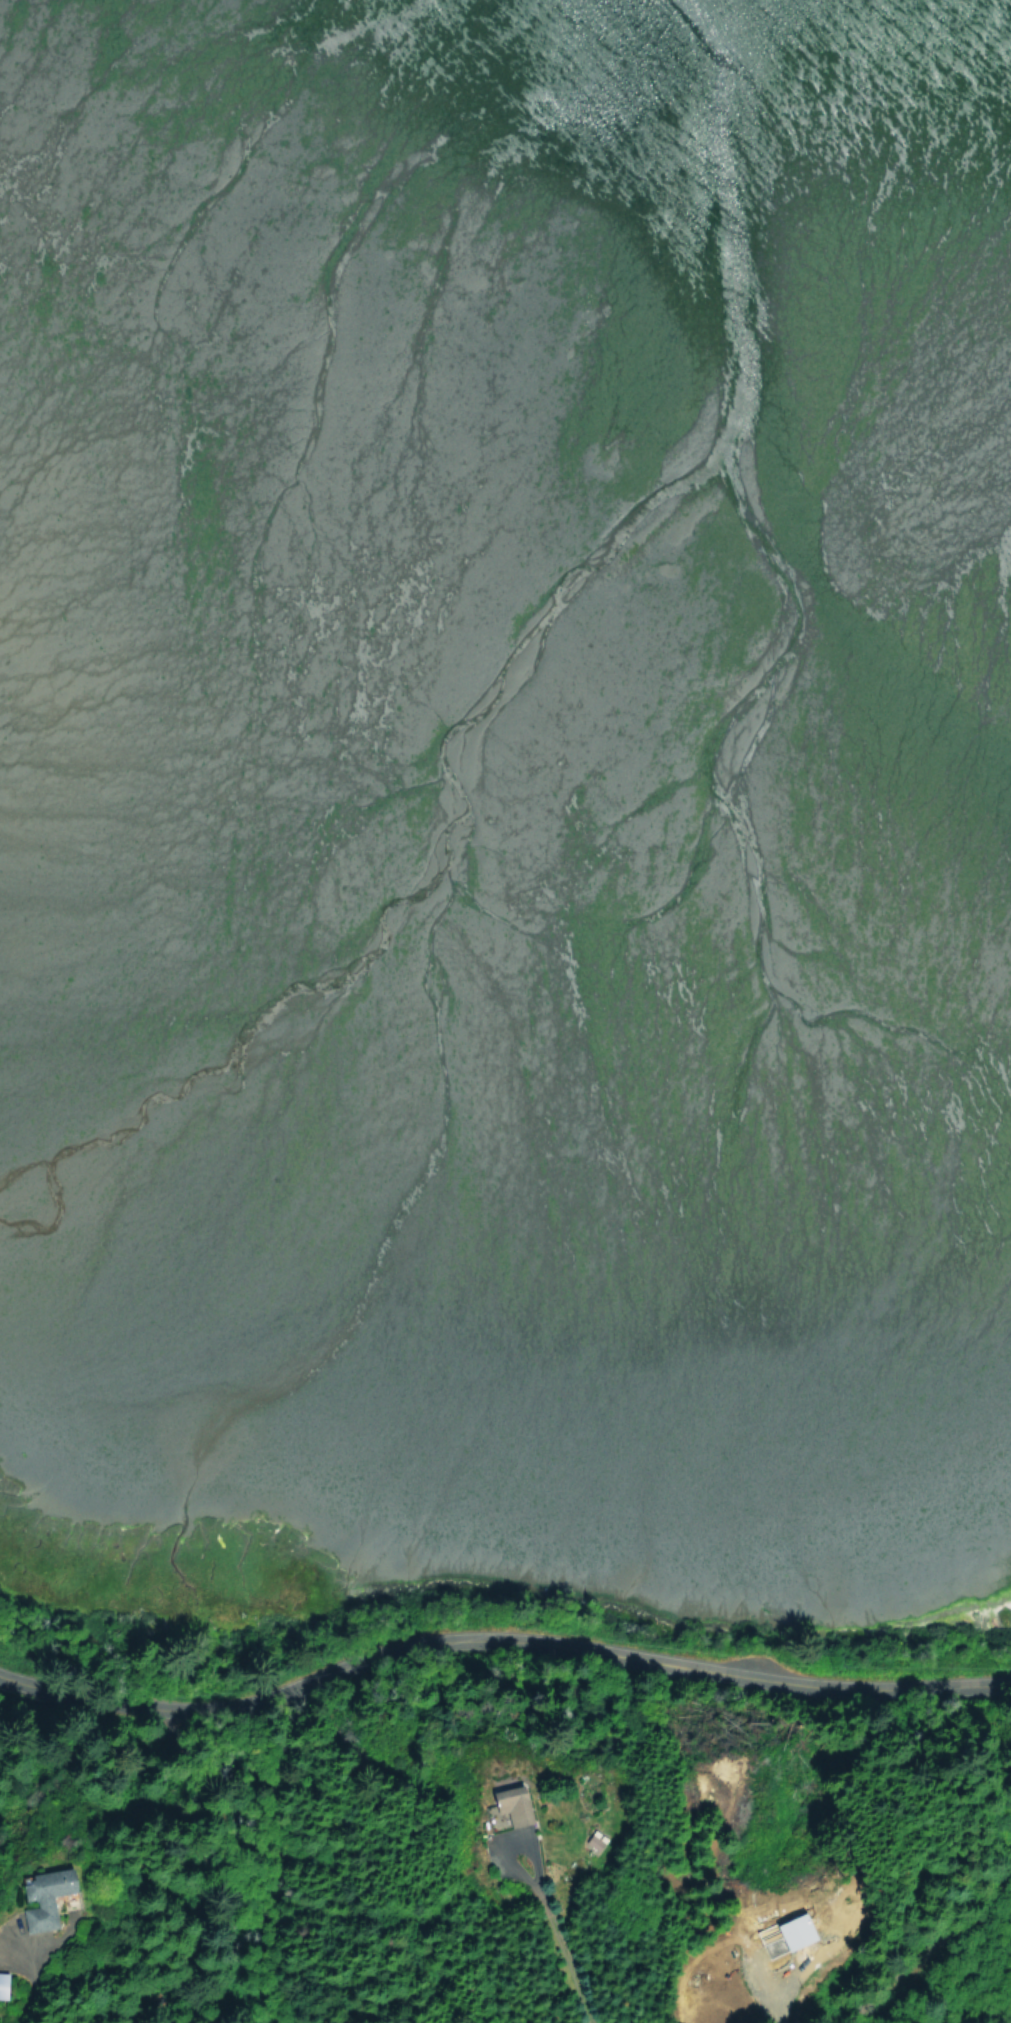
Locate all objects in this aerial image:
road: (499, 1638)
building: (507, 1804)
building: (594, 1841)
road: (194, 1844)
building: (42, 1897)
road: (980, 1913)
road: (557, 1928)
building: (791, 1930)
road: (921, 1965)
building: (2, 1985)
road: (60, 2019)

